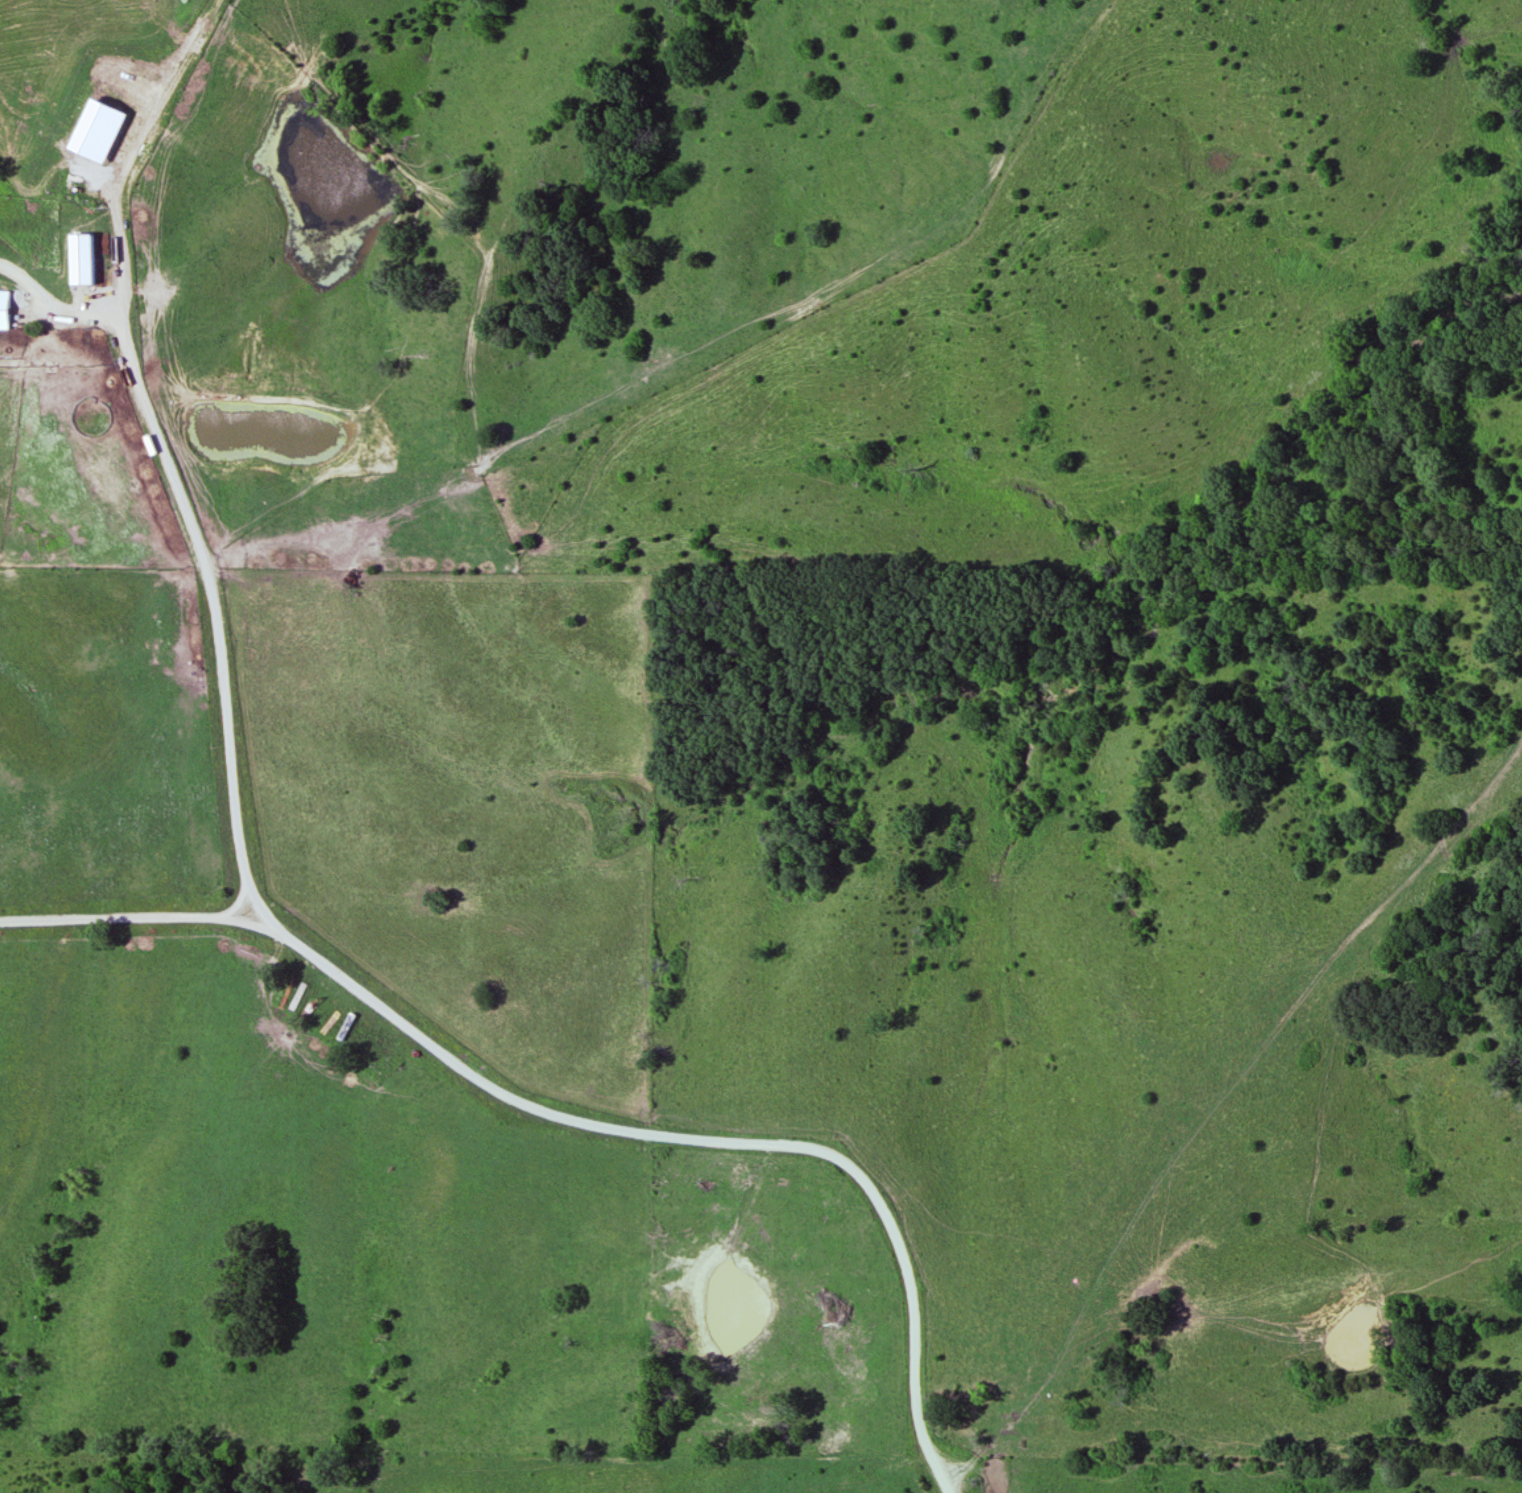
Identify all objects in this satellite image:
building: (5, 310)
road: (56, 315)
road: (240, 904)
road: (113, 921)
road: (254, 925)
road: (279, 929)

